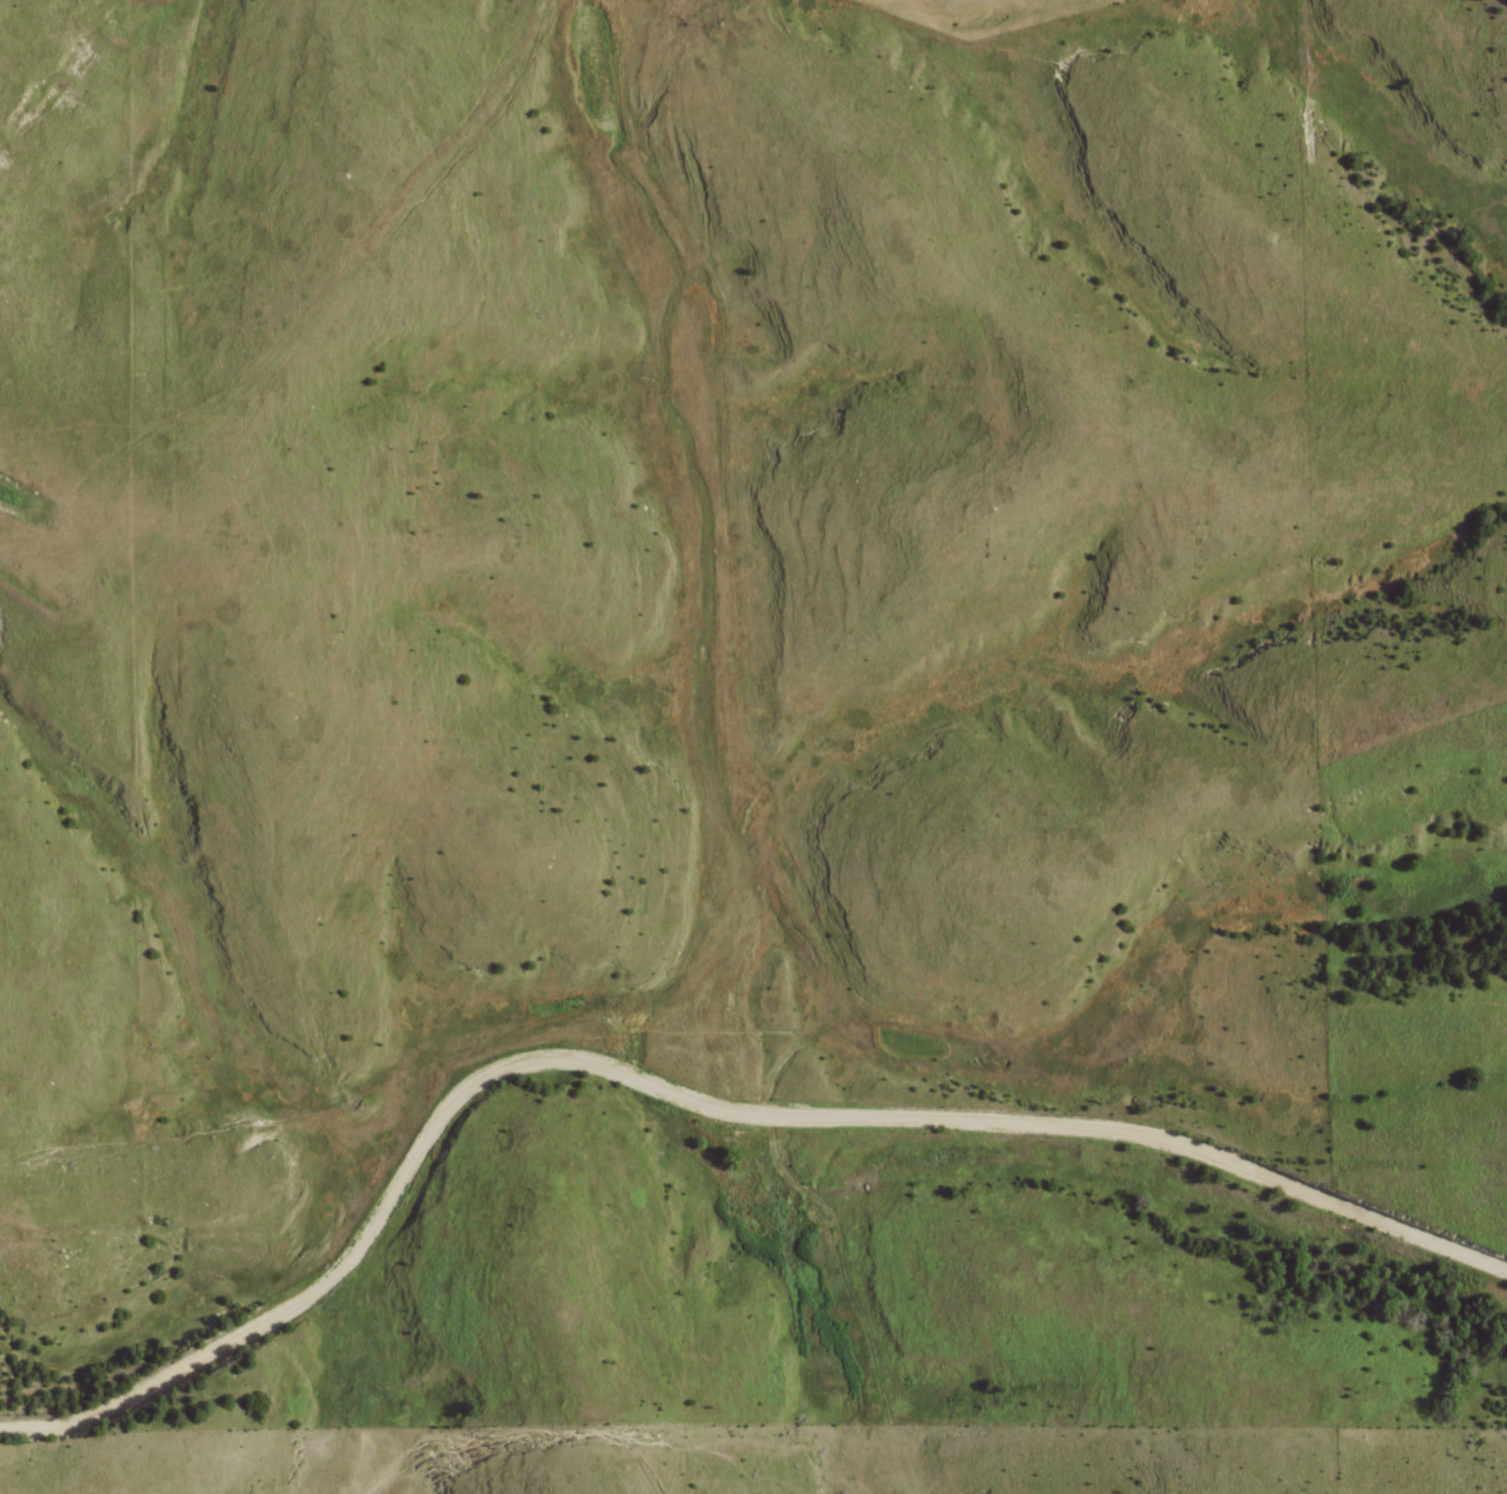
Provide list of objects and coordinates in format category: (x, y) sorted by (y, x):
road: (692, 1102)

